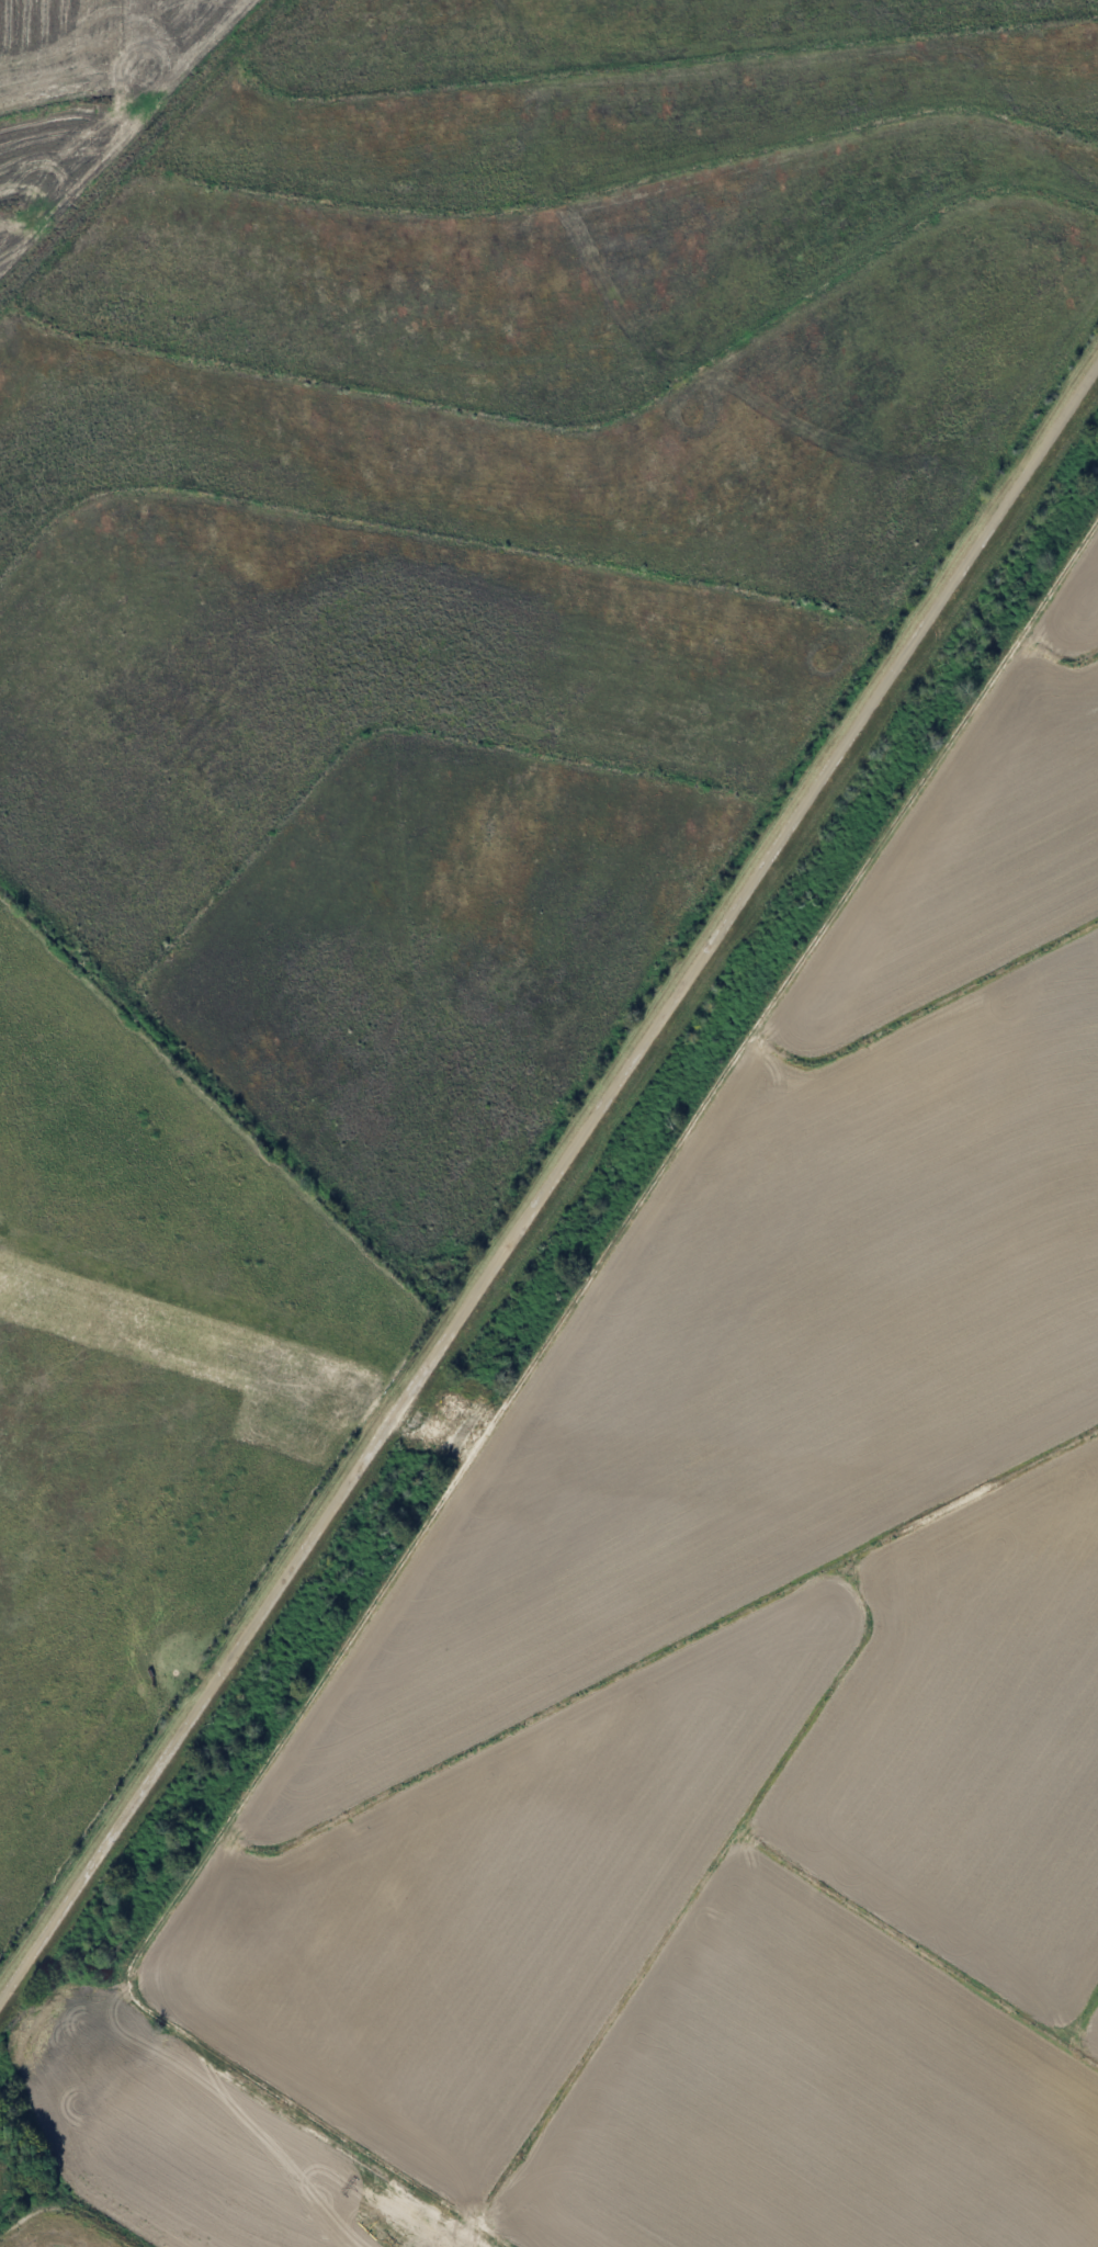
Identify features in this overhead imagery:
road: (550, 1179)

